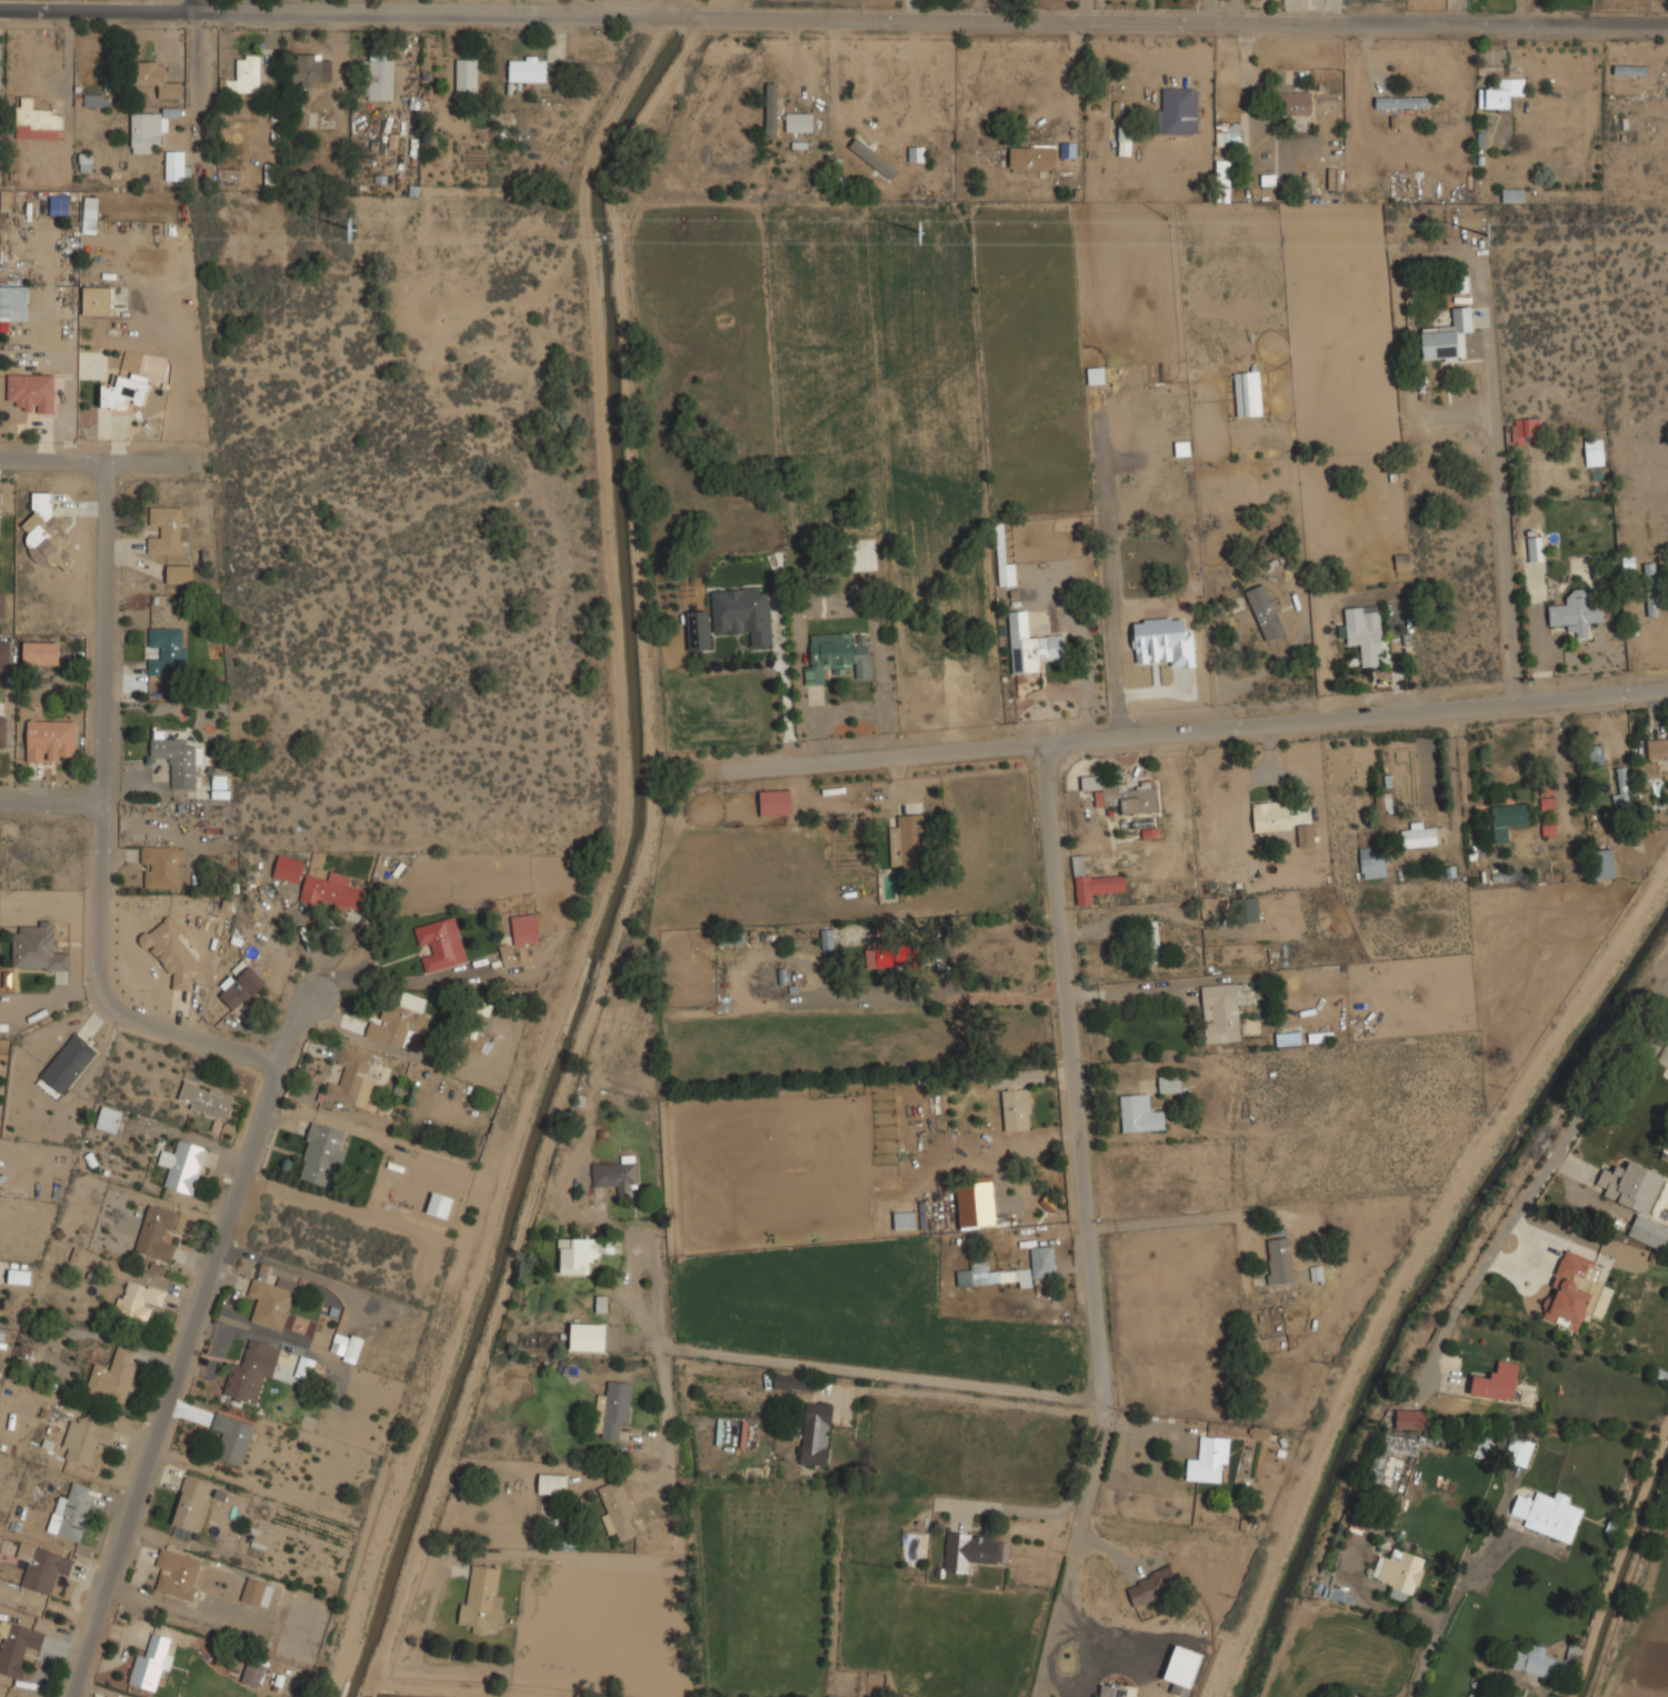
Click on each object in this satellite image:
road: (194, 3)
road: (638, 8)
road: (833, 19)
building: (528, 69)
building: (307, 70)
building: (246, 74)
building: (467, 76)
building: (156, 77)
building: (380, 77)
road: (1072, 92)
building: (1500, 92)
building: (96, 99)
building: (1292, 101)
building: (1402, 102)
building: (1178, 110)
building: (39, 119)
building: (799, 122)
building: (147, 131)
building: (1231, 132)
building: (1126, 139)
building: (877, 150)
building: (1414, 152)
building: (916, 153)
building: (1032, 156)
building: (872, 158)
building: (80, 162)
building: (177, 164)
building: (1334, 179)
building: (1222, 180)
building: (1267, 180)
building: (1512, 193)
building: (59, 204)
building: (90, 214)
power tower: (354, 227)
power tower: (927, 233)
power tower: (1492, 237)
building: (1459, 283)
building: (97, 300)
building: (13, 302)
building: (1447, 337)
building: (32, 391)
building: (124, 391)
building: (1248, 392)
building: (1525, 429)
building: (1594, 451)
road: (99, 463)
building: (167, 530)
building: (44, 531)
road: (1502, 537)
building: (1536, 548)
building: (1006, 573)
building: (179, 575)
building: (1651, 588)
building: (1, 603)
building: (1265, 611)
building: (743, 612)
building: (1577, 613)
building: (699, 629)
building: (1366, 632)
building: (1163, 641)
building: (1031, 646)
building: (168, 650)
building: (41, 652)
building: (4, 656)
building: (836, 657)
building: (160, 689)
building: (2, 729)
building: (50, 740)
road: (1191, 743)
building: (1657, 747)
building: (1595, 755)
building: (178, 760)
building: (1624, 789)
building: (1122, 793)
road: (53, 795)
building: (1378, 801)
building: (776, 802)
building: (1271, 816)
building: (1508, 819)
building: (1420, 835)
building: (1305, 836)
building: (910, 842)
building: (1374, 862)
building: (1604, 864)
building: (160, 867)
building: (289, 869)
building: (1092, 882)
building: (333, 891)
building: (1246, 909)
road: (1179, 917)
building: (526, 929)
building: (827, 939)
building: (1155, 940)
building: (441, 944)
building: (38, 948)
building: (171, 952)
building: (506, 955)
building: (886, 957)
road: (399, 984)
building: (240, 986)
road: (1135, 990)
road: (1002, 995)
building: (1221, 1011)
building: (397, 1024)
road: (289, 1027)
building: (1289, 1038)
building: (480, 1042)
road: (244, 1056)
building: (68, 1062)
building: (354, 1077)
road: (1081, 1079)
building: (1169, 1084)
building: (1016, 1095)
building: (206, 1100)
building: (1140, 1112)
building: (109, 1119)
building: (962, 1145)
building: (322, 1155)
road: (1007, 1158)
building: (183, 1166)
road: (1542, 1171)
building: (617, 1175)
building: (1637, 1199)
building: (975, 1200)
building: (439, 1205)
building: (157, 1232)
building: (78, 1255)
building: (576, 1255)
building: (1042, 1260)
building: (1280, 1260)
building: (985, 1275)
building: (19, 1276)
building: (1572, 1291)
building: (138, 1300)
building: (271, 1301)
building: (588, 1336)
building: (338, 1344)
building: (352, 1348)
road: (828, 1366)
building: (303, 1367)
building: (251, 1370)
building: (113, 1377)
building: (1498, 1381)
building: (796, 1382)
building: (612, 1410)
road: (666, 1418)
building: (1409, 1419)
building: (1259, 1433)
building: (817, 1434)
building: (232, 1438)
building: (89, 1439)
building: (1519, 1451)
building: (1208, 1460)
building: (552, 1484)
building: (191, 1507)
building: (619, 1511)
building: (71, 1513)
building: (1547, 1515)
building: (0, 1537)
road: (1079, 1549)
building: (968, 1550)
building: (42, 1566)
building: (178, 1571)
building: (1400, 1574)
building: (1151, 1587)
building: (257, 1594)
building: (482, 1600)
building: (17, 1647)
building: (152, 1664)
building: (1545, 1664)
road: (1421, 1668)
building: (252, 1674)
building: (1110, 1690)
building: (1355, 1696)
building: (1495, 1696)

